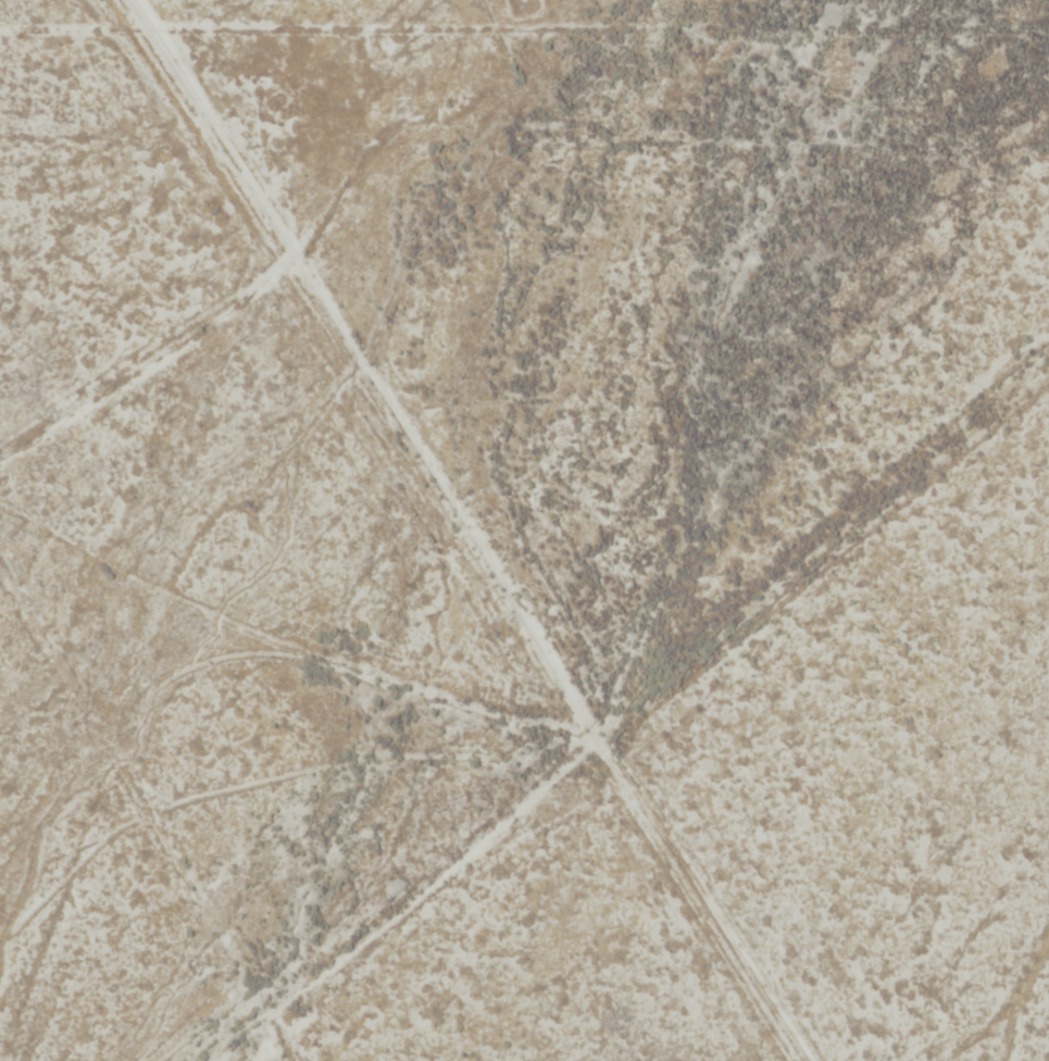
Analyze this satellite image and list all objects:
road: (441, 530)

